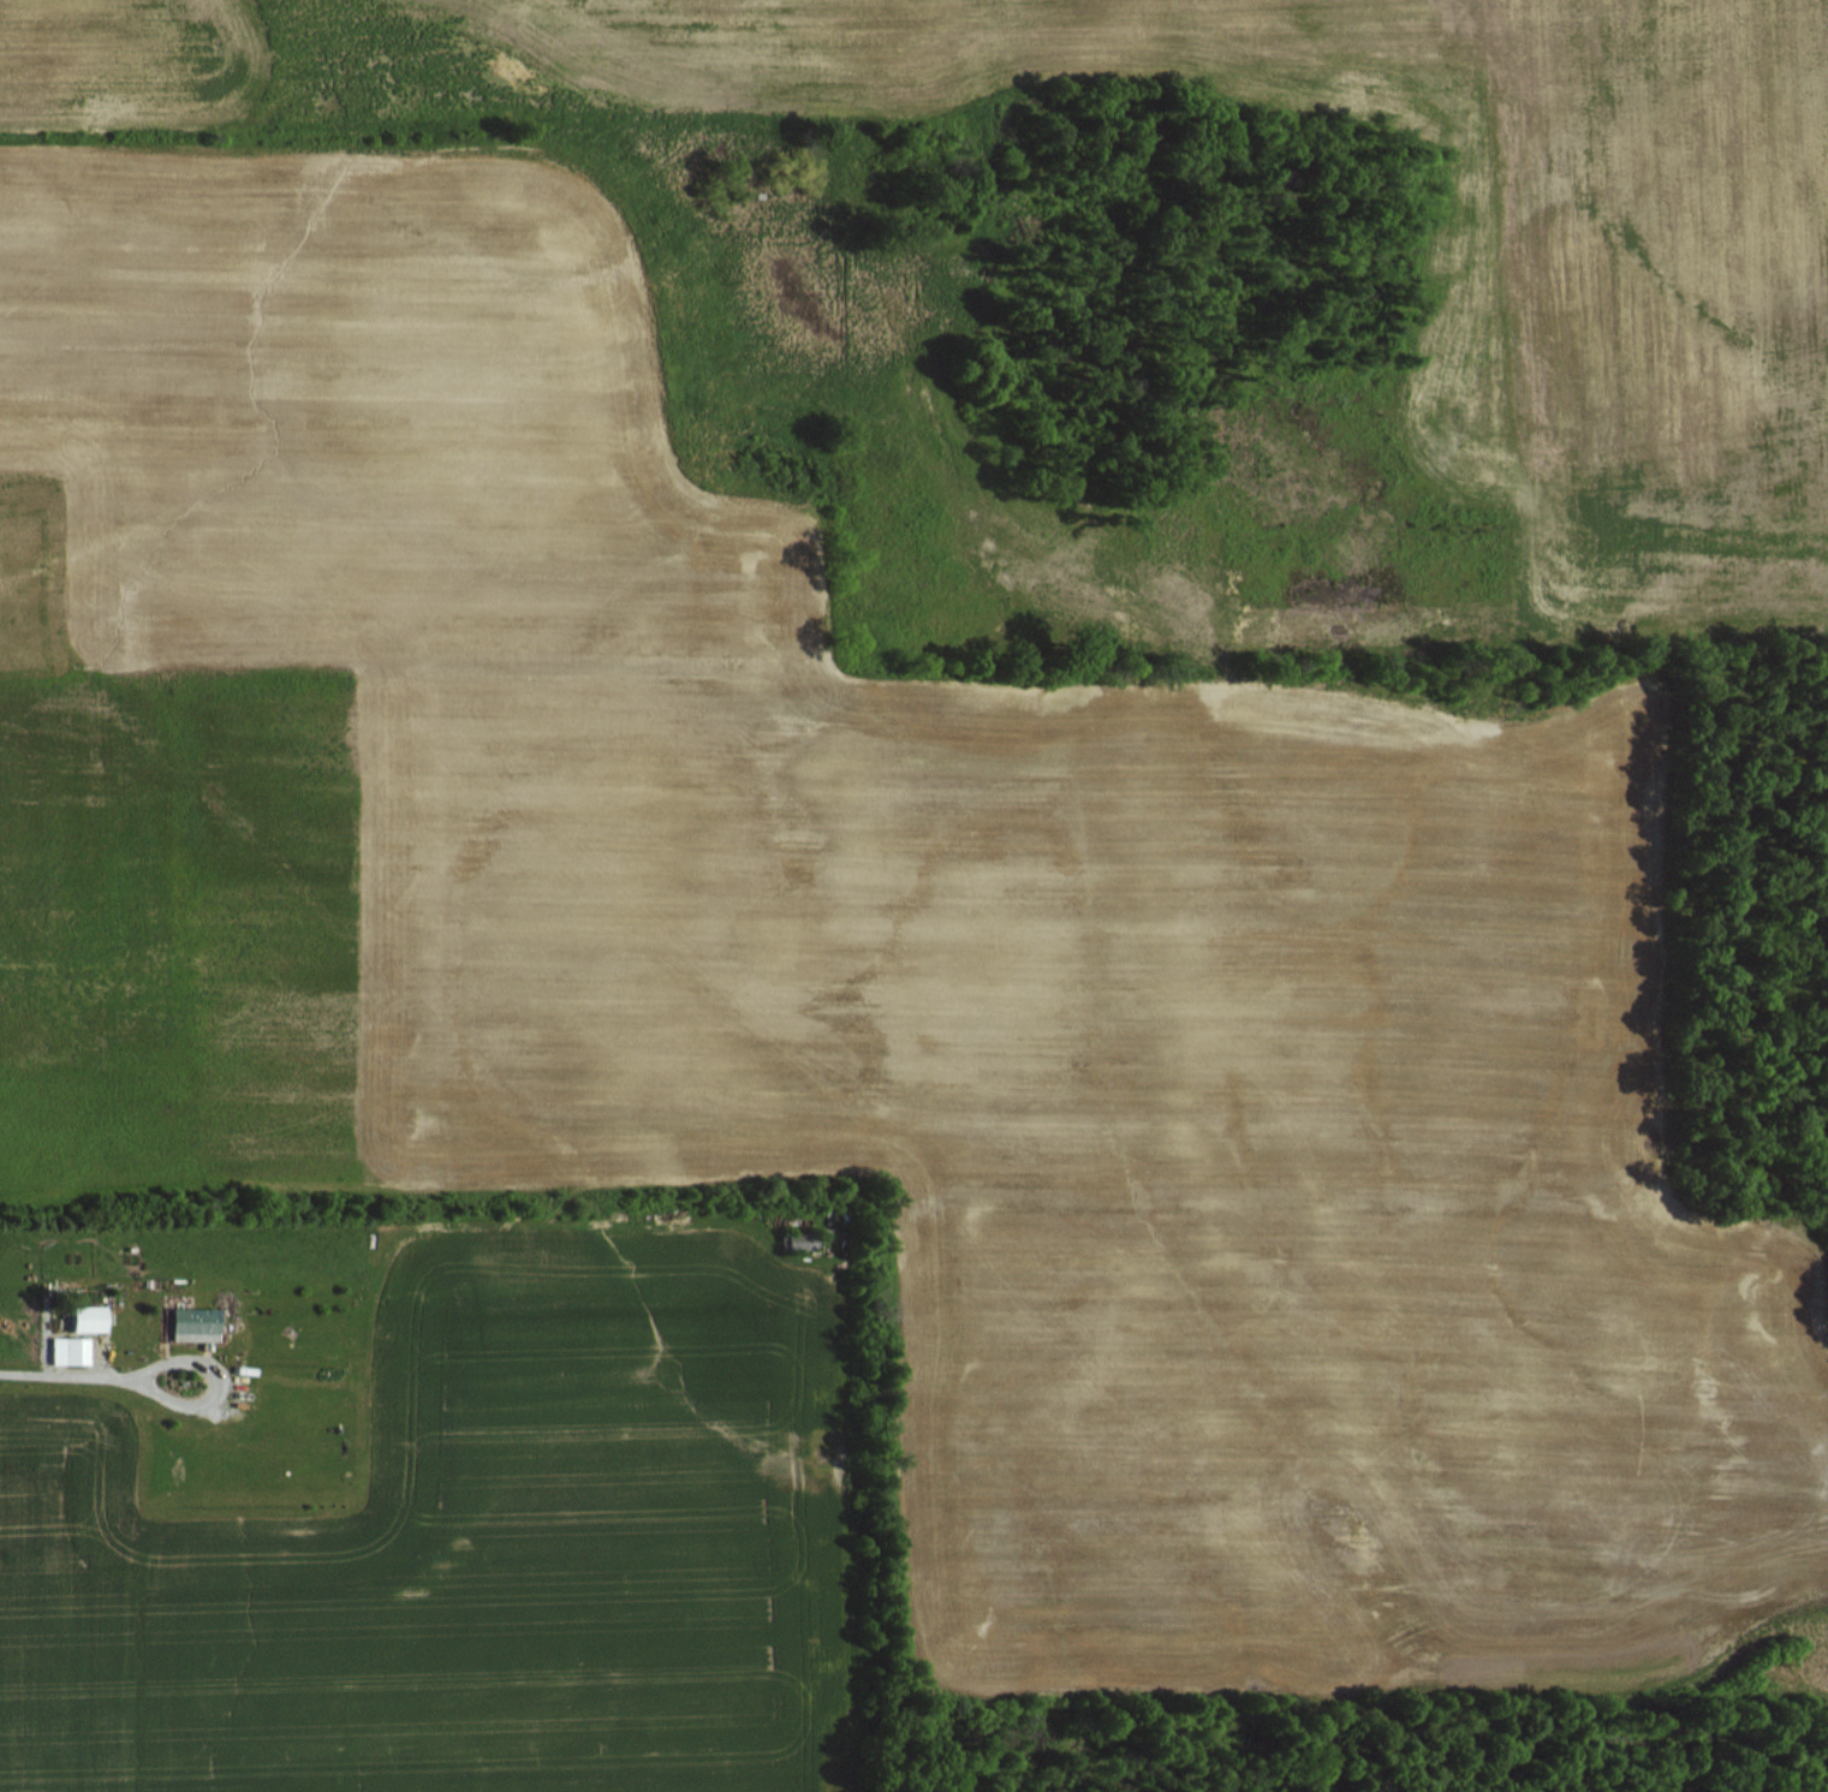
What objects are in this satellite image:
building: (89, 1317)
building: (196, 1323)
building: (70, 1349)
road: (100, 1374)

